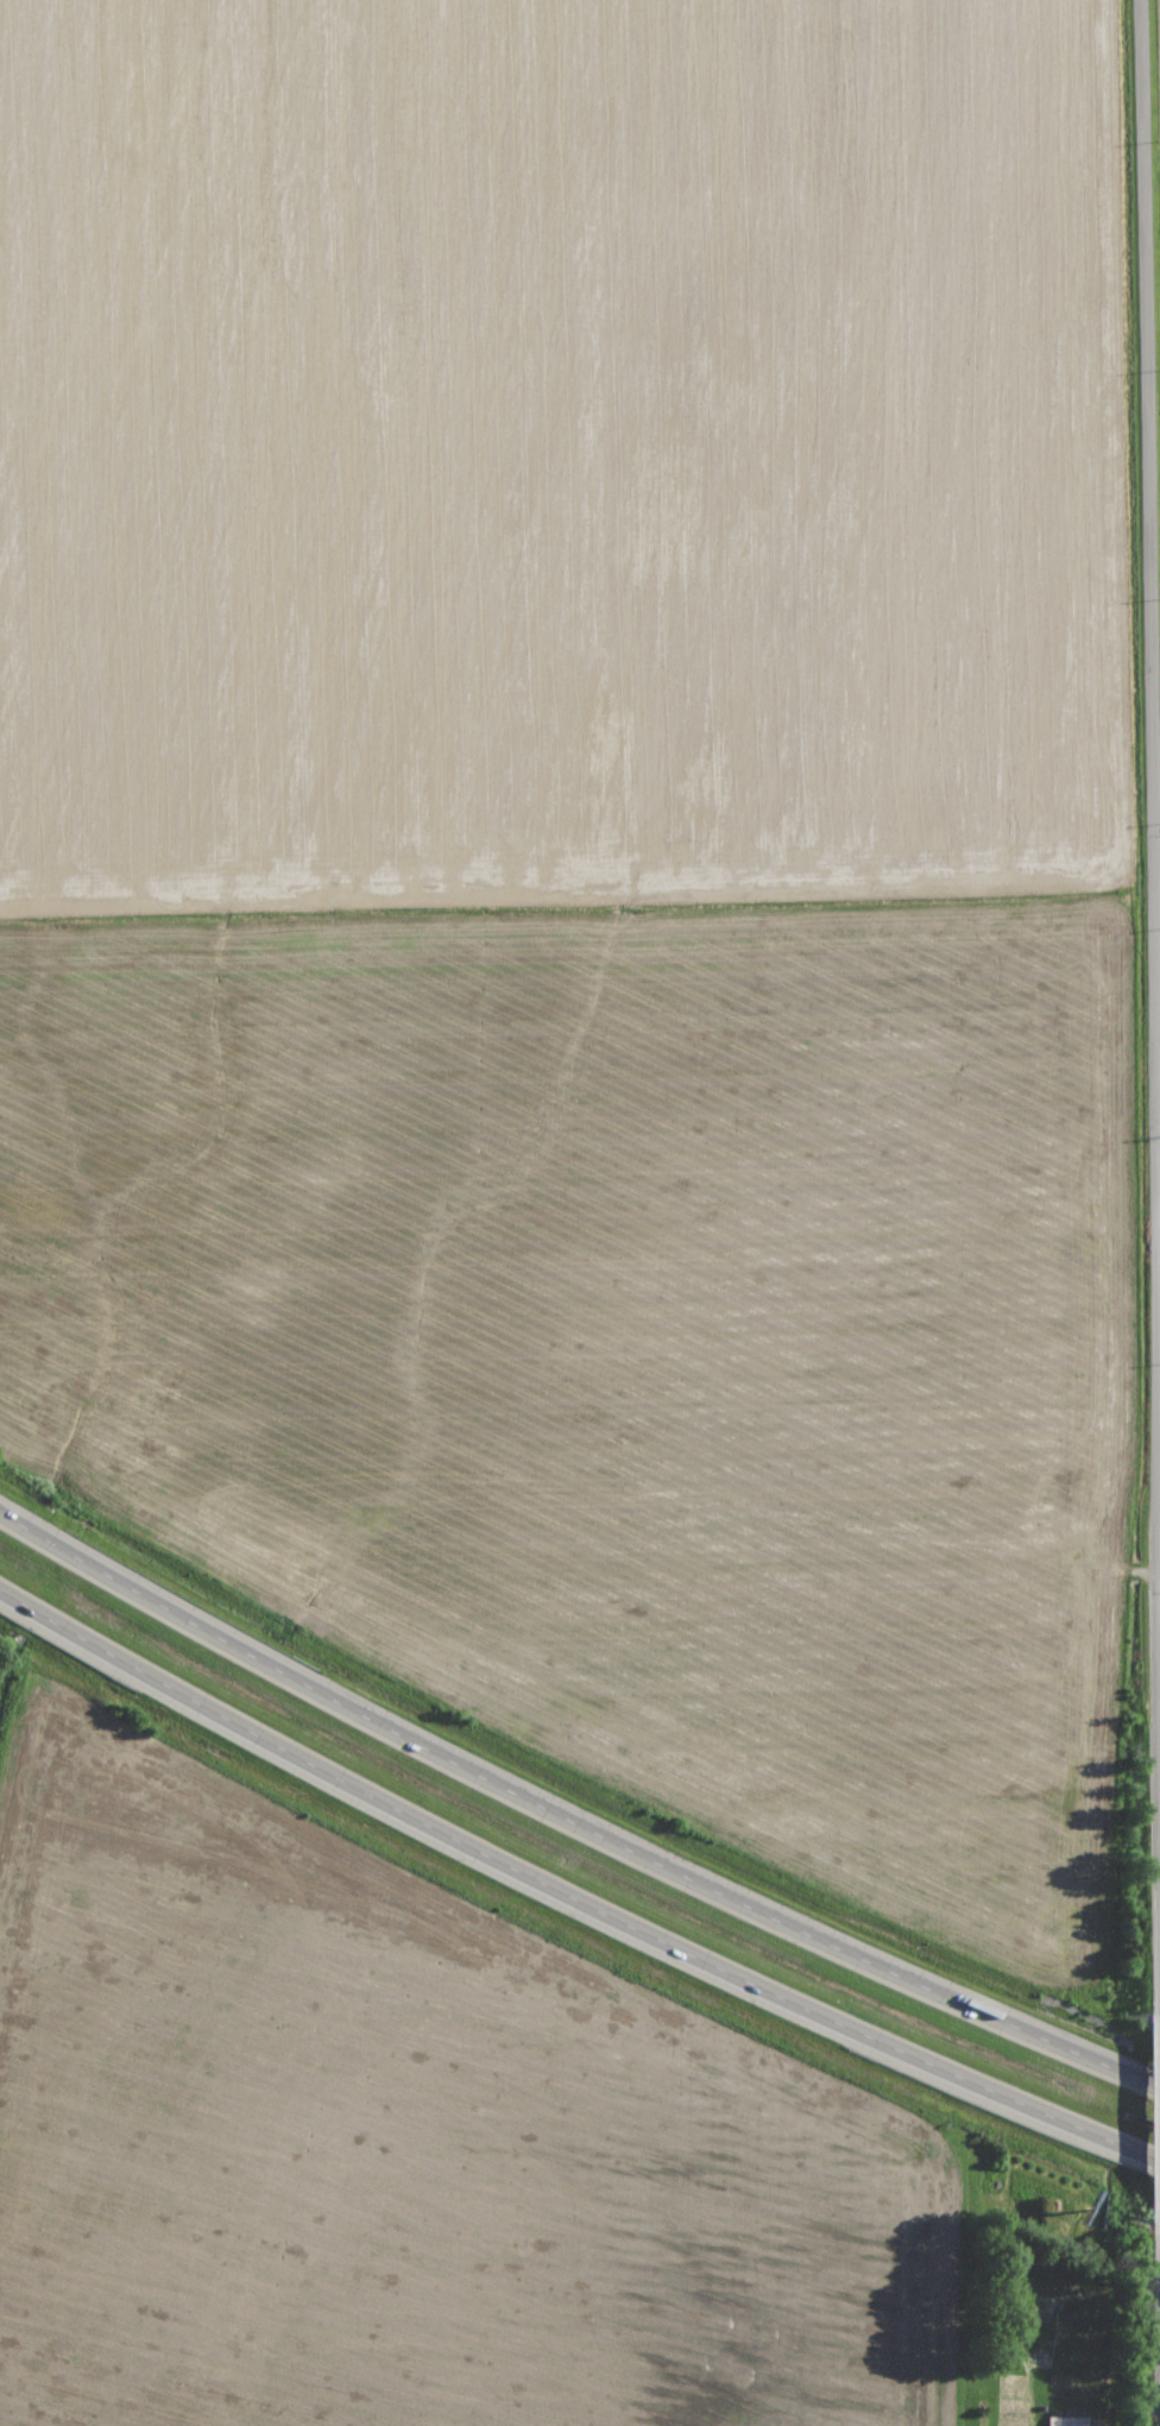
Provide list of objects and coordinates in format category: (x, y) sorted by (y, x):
road: (1156, 890)
road: (1153, 927)
road: (568, 1816)
road: (570, 1898)
building: (1070, 2421)

